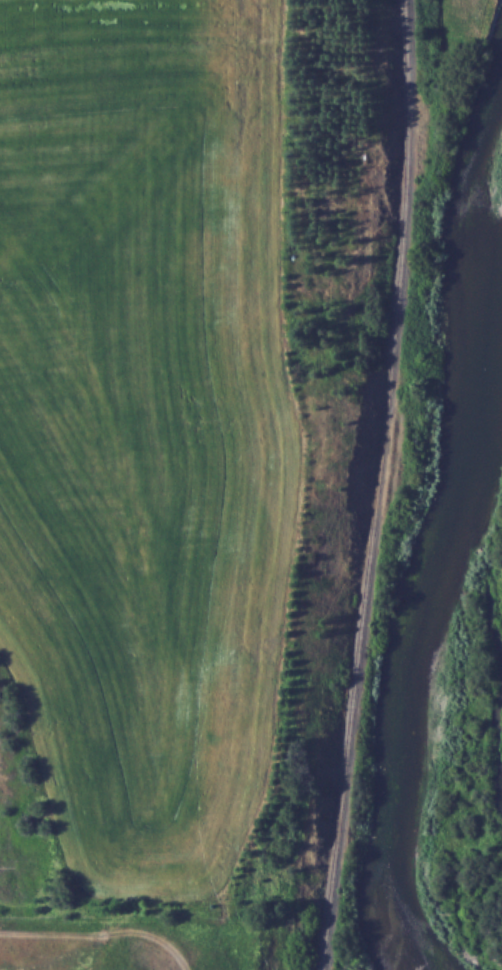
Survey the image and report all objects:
railway: (374, 485)
river: (453, 531)
road: (100, 930)

